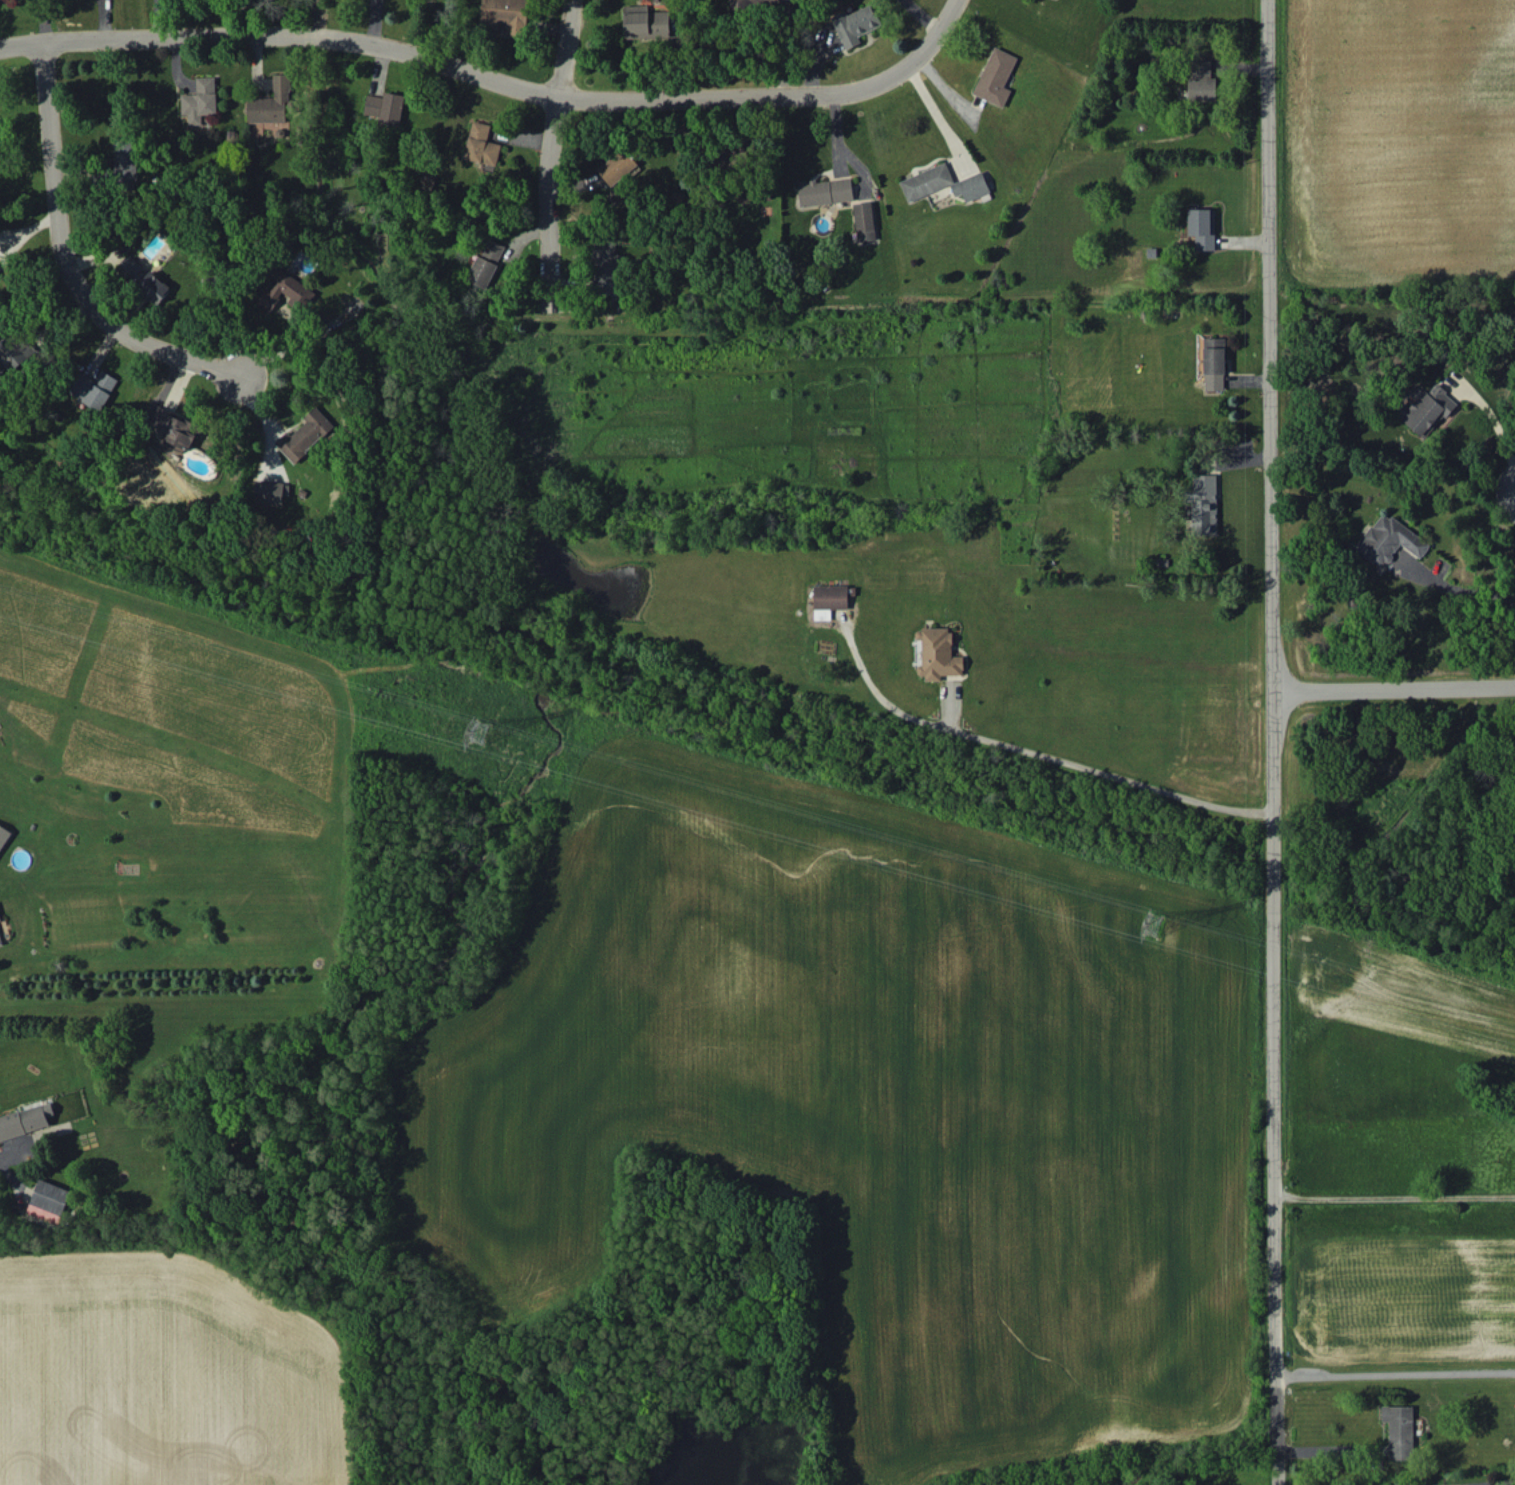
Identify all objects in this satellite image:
building: (760, 2)
building: (504, 15)
building: (646, 22)
building: (855, 24)
road: (568, 53)
building: (996, 76)
road: (499, 77)
building: (1202, 81)
building: (199, 100)
building: (274, 102)
building: (385, 107)
road: (936, 114)
building: (0, 140)
building: (481, 144)
building: (124, 158)
building: (617, 166)
road: (558, 170)
building: (926, 181)
building: (971, 186)
building: (825, 191)
building: (864, 221)
building: (1202, 227)
road: (70, 251)
building: (485, 264)
building: (606, 267)
building: (132, 268)
building: (154, 287)
building: (285, 291)
building: (16, 353)
building: (1214, 363)
building: (93, 388)
building: (1425, 408)
road: (1489, 408)
building: (176, 428)
building: (304, 434)
building: (269, 493)
building: (1205, 504)
building: (1388, 540)
road: (1455, 591)
building: (829, 599)
building: (938, 653)
road: (1395, 691)
power tower: (477, 720)
road: (1276, 742)
road: (1035, 747)
building: (3, 835)
building: (0, 919)
power tower: (1165, 922)
building: (1, 940)
building: (25, 1121)
road: (1396, 1196)
building: (49, 1200)
road: (1396, 1373)
building: (1399, 1430)
road: (1331, 1449)

